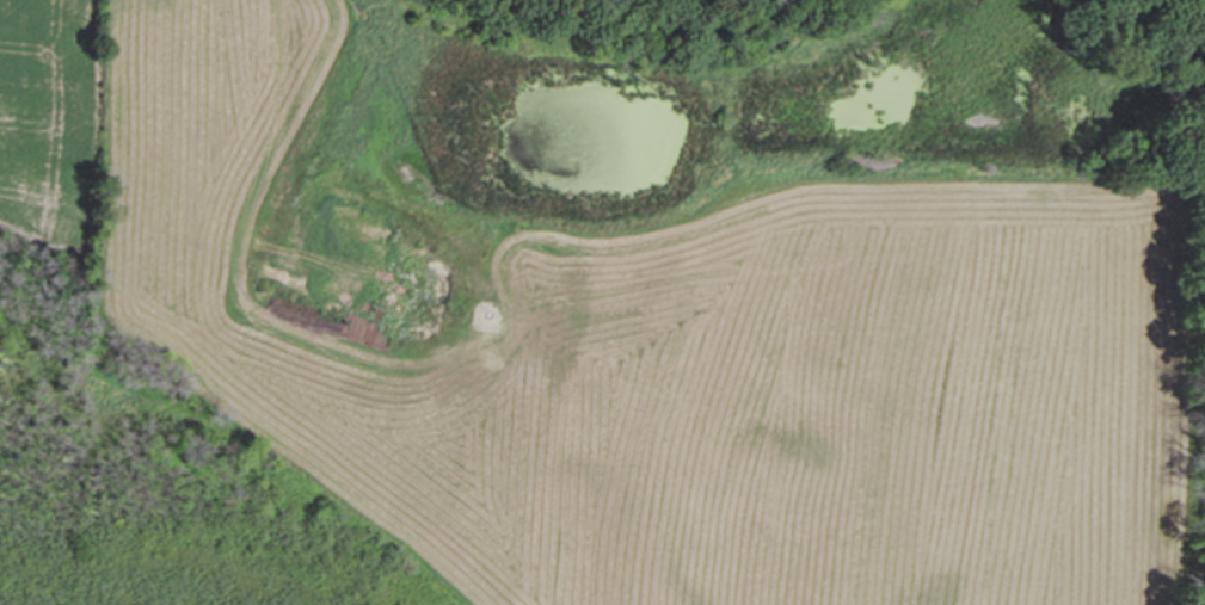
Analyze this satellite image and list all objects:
crop: (629, 297)

